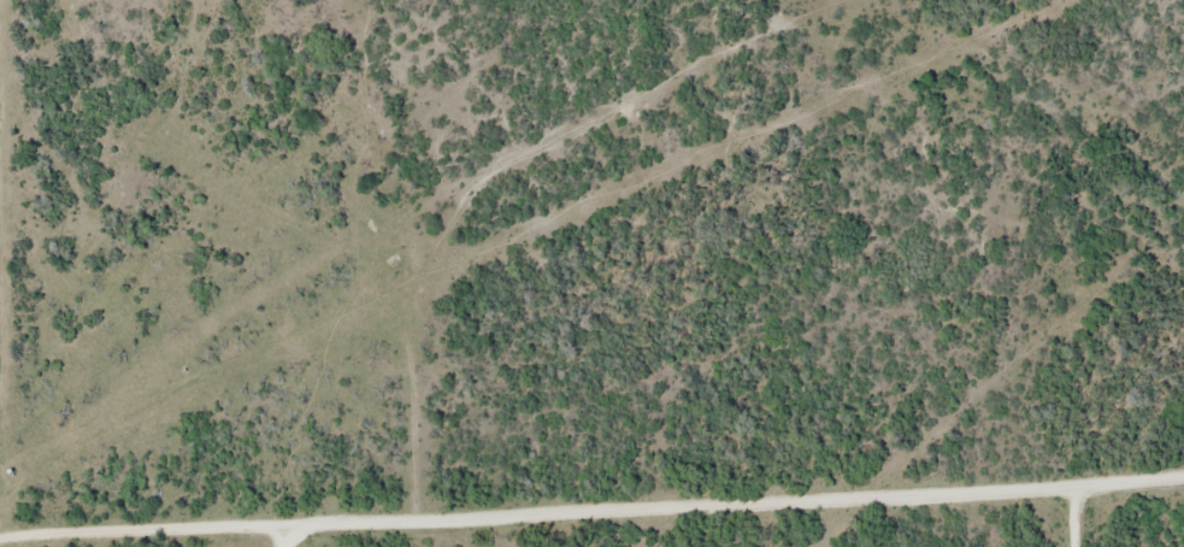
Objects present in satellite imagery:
road: (591, 484)
road: (289, 524)

